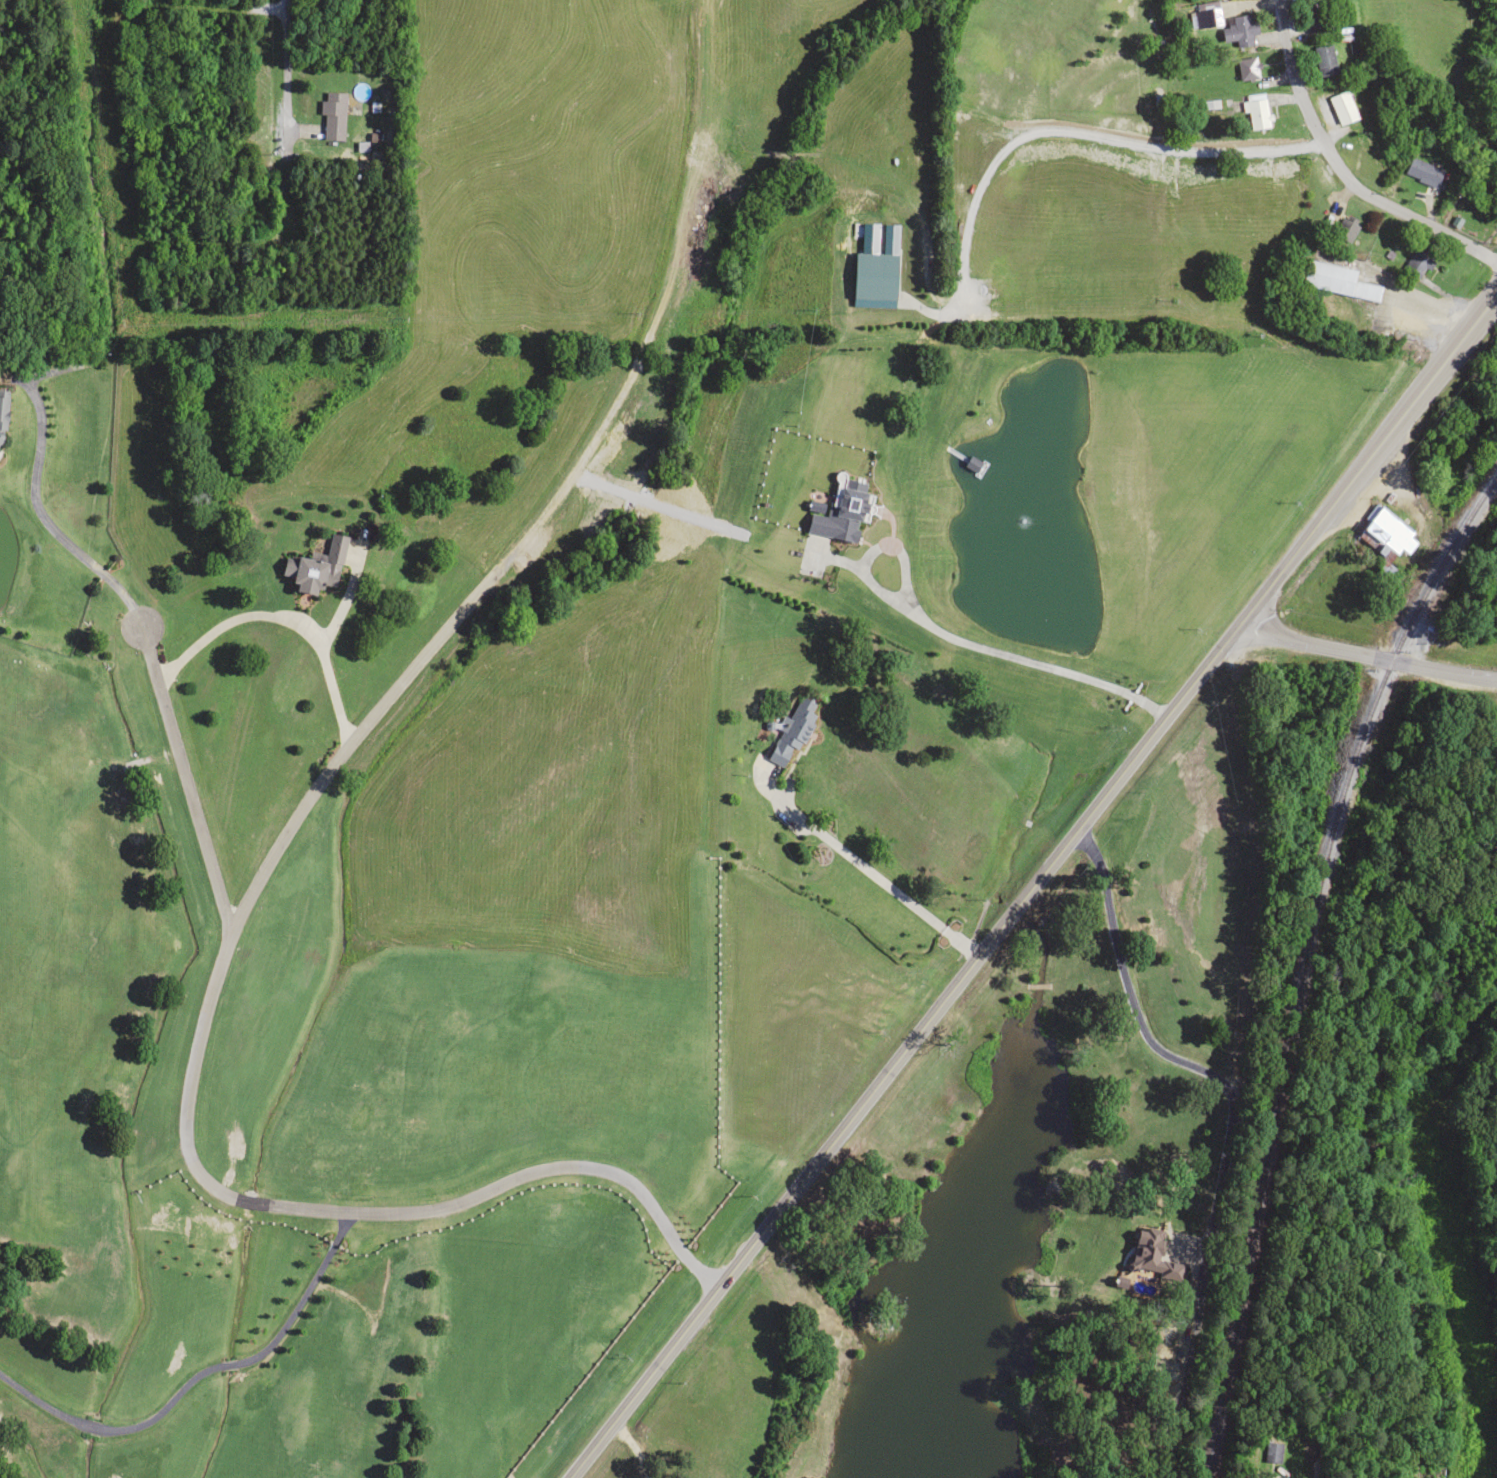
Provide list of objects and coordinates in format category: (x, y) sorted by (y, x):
building: (1205, 14)
building: (1314, 18)
building: (1240, 31)
building: (1323, 59)
building: (1247, 68)
building: (1342, 107)
building: (1256, 110)
building: (333, 116)
road: (288, 137)
road: (1338, 170)
building: (1422, 171)
building: (1344, 229)
building: (1417, 261)
building: (1341, 280)
building: (2, 409)
building: (0, 441)
building: (1384, 529)
building: (317, 568)
road: (1367, 656)
building: (793, 732)
road: (1042, 884)
road: (841, 944)
railway: (1300, 957)
building: (1272, 1452)
road: (1310, 1475)
building: (1270, 1477)

